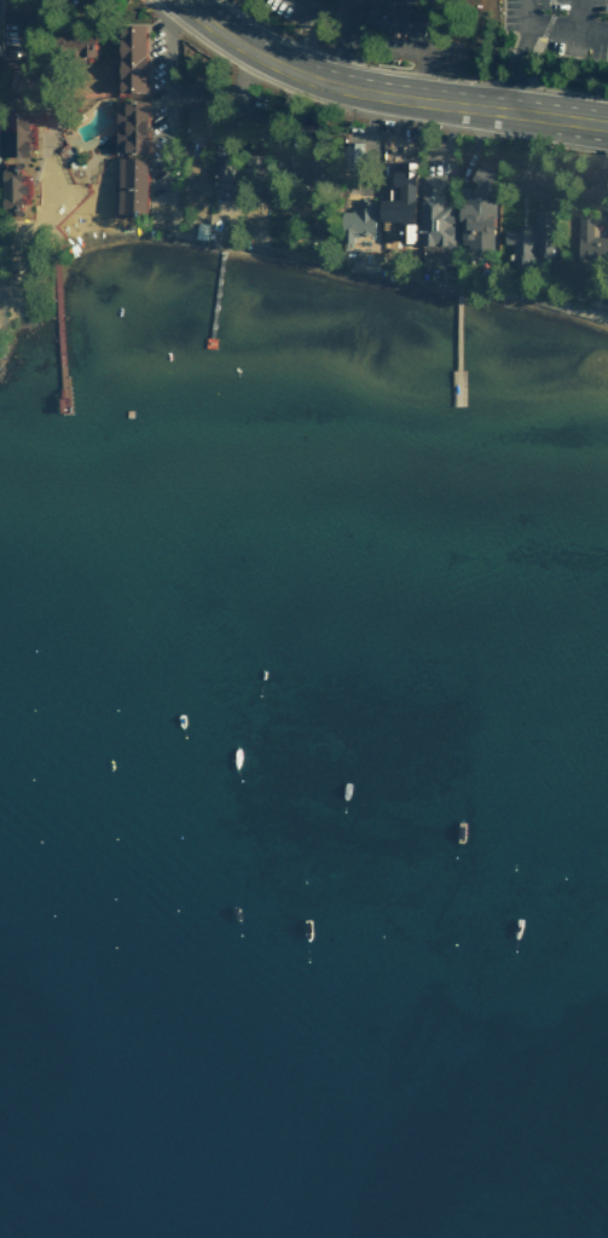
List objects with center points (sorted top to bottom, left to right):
building: (387, 13)
road: (578, 17)
parking lot: (558, 30)
road: (567, 33)
building: (77, 39)
road: (344, 41)
building: (131, 54)
road: (521, 56)
road: (337, 81)
road: (571, 91)
building: (204, 118)
road: (560, 118)
building: (128, 127)
building: (18, 132)
building: (351, 156)
building: (406, 157)
building: (222, 166)
building: (253, 167)
building: (309, 167)
building: (132, 184)
building: (18, 185)
building: (480, 204)
building: (404, 215)
building: (436, 215)
building: (360, 219)
building: (529, 242)
building: (589, 253)
pier: (215, 299)
pier: (60, 334)
pier: (456, 349)

